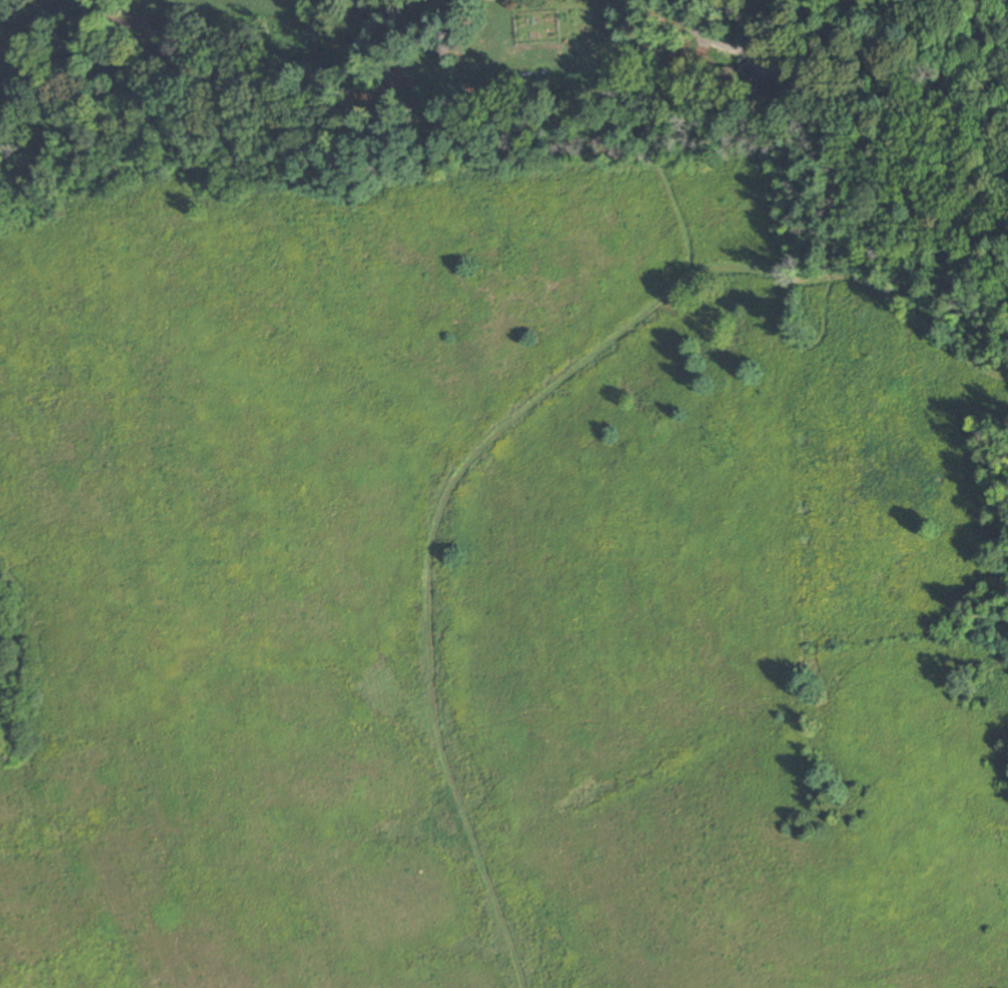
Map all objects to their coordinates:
road: (133, 69)

